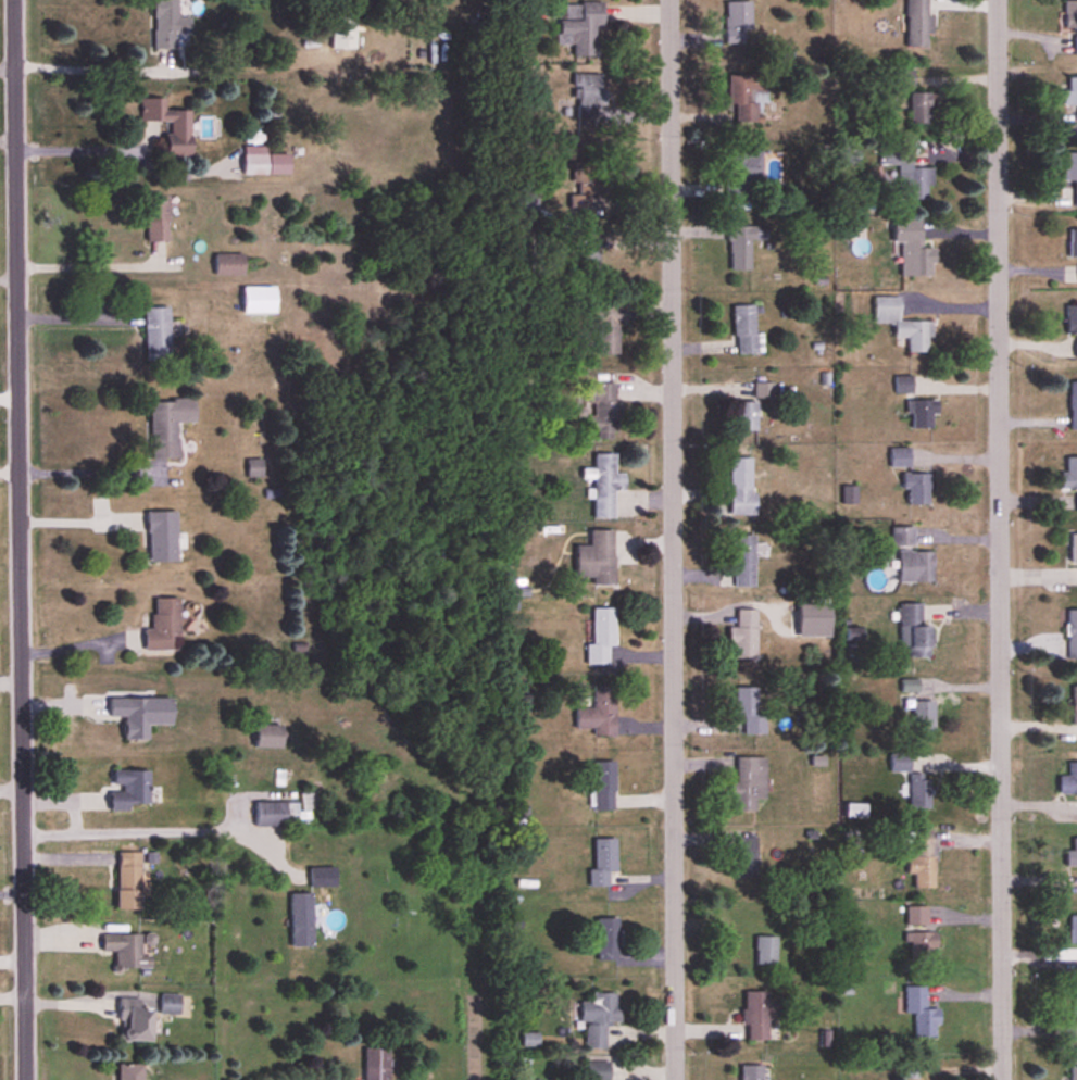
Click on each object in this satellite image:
building: (1069, 15)
building: (738, 23)
building: (917, 23)
building: (168, 24)
building: (580, 28)
building: (343, 34)
road: (89, 63)
building: (904, 78)
building: (1070, 93)
building: (748, 98)
building: (922, 109)
building: (170, 126)
building: (205, 127)
road: (8, 139)
road: (85, 146)
building: (849, 156)
building: (264, 163)
building: (1072, 171)
building: (907, 174)
building: (743, 177)
building: (586, 183)
building: (522, 202)
building: (155, 219)
building: (1073, 244)
building: (742, 247)
building: (913, 249)
building: (588, 262)
road: (86, 265)
building: (229, 265)
building: (259, 301)
building: (1072, 321)
building: (903, 325)
building: (606, 327)
building: (744, 330)
building: (156, 336)
building: (903, 385)
building: (763, 390)
building: (1074, 405)
building: (601, 412)
building: (924, 414)
building: (746, 416)
building: (167, 427)
building: (900, 457)
road: (10, 466)
road: (89, 473)
building: (1070, 476)
building: (604, 486)
building: (741, 488)
building: (916, 489)
road: (79, 522)
building: (161, 538)
building: (903, 538)
road: (20, 540)
road: (671, 540)
road: (998, 540)
building: (1074, 549)
building: (597, 560)
building: (743, 562)
building: (916, 567)
building: (814, 621)
building: (163, 628)
building: (915, 632)
building: (744, 636)
building: (1073, 636)
building: (601, 640)
road: (11, 679)
building: (1074, 706)
building: (749, 712)
building: (599, 714)
building: (140, 716)
building: (924, 717)
building: (268, 737)
building: (900, 762)
building: (1069, 780)
building: (749, 782)
building: (603, 787)
building: (129, 789)
building: (919, 791)
building: (274, 813)
road: (153, 827)
building: (1073, 854)
building: (746, 856)
building: (923, 858)
building: (604, 863)
building: (322, 877)
building: (127, 880)
building: (917, 916)
building: (300, 919)
building: (1073, 929)
building: (608, 939)
building: (923, 944)
building: (765, 950)
building: (125, 951)
building: (1075, 1005)
building: (922, 1012)
building: (755, 1016)
building: (598, 1018)
building: (135, 1020)
building: (376, 1064)
building: (597, 1071)
building: (132, 1072)
building: (752, 1072)
building: (1074, 1073)

